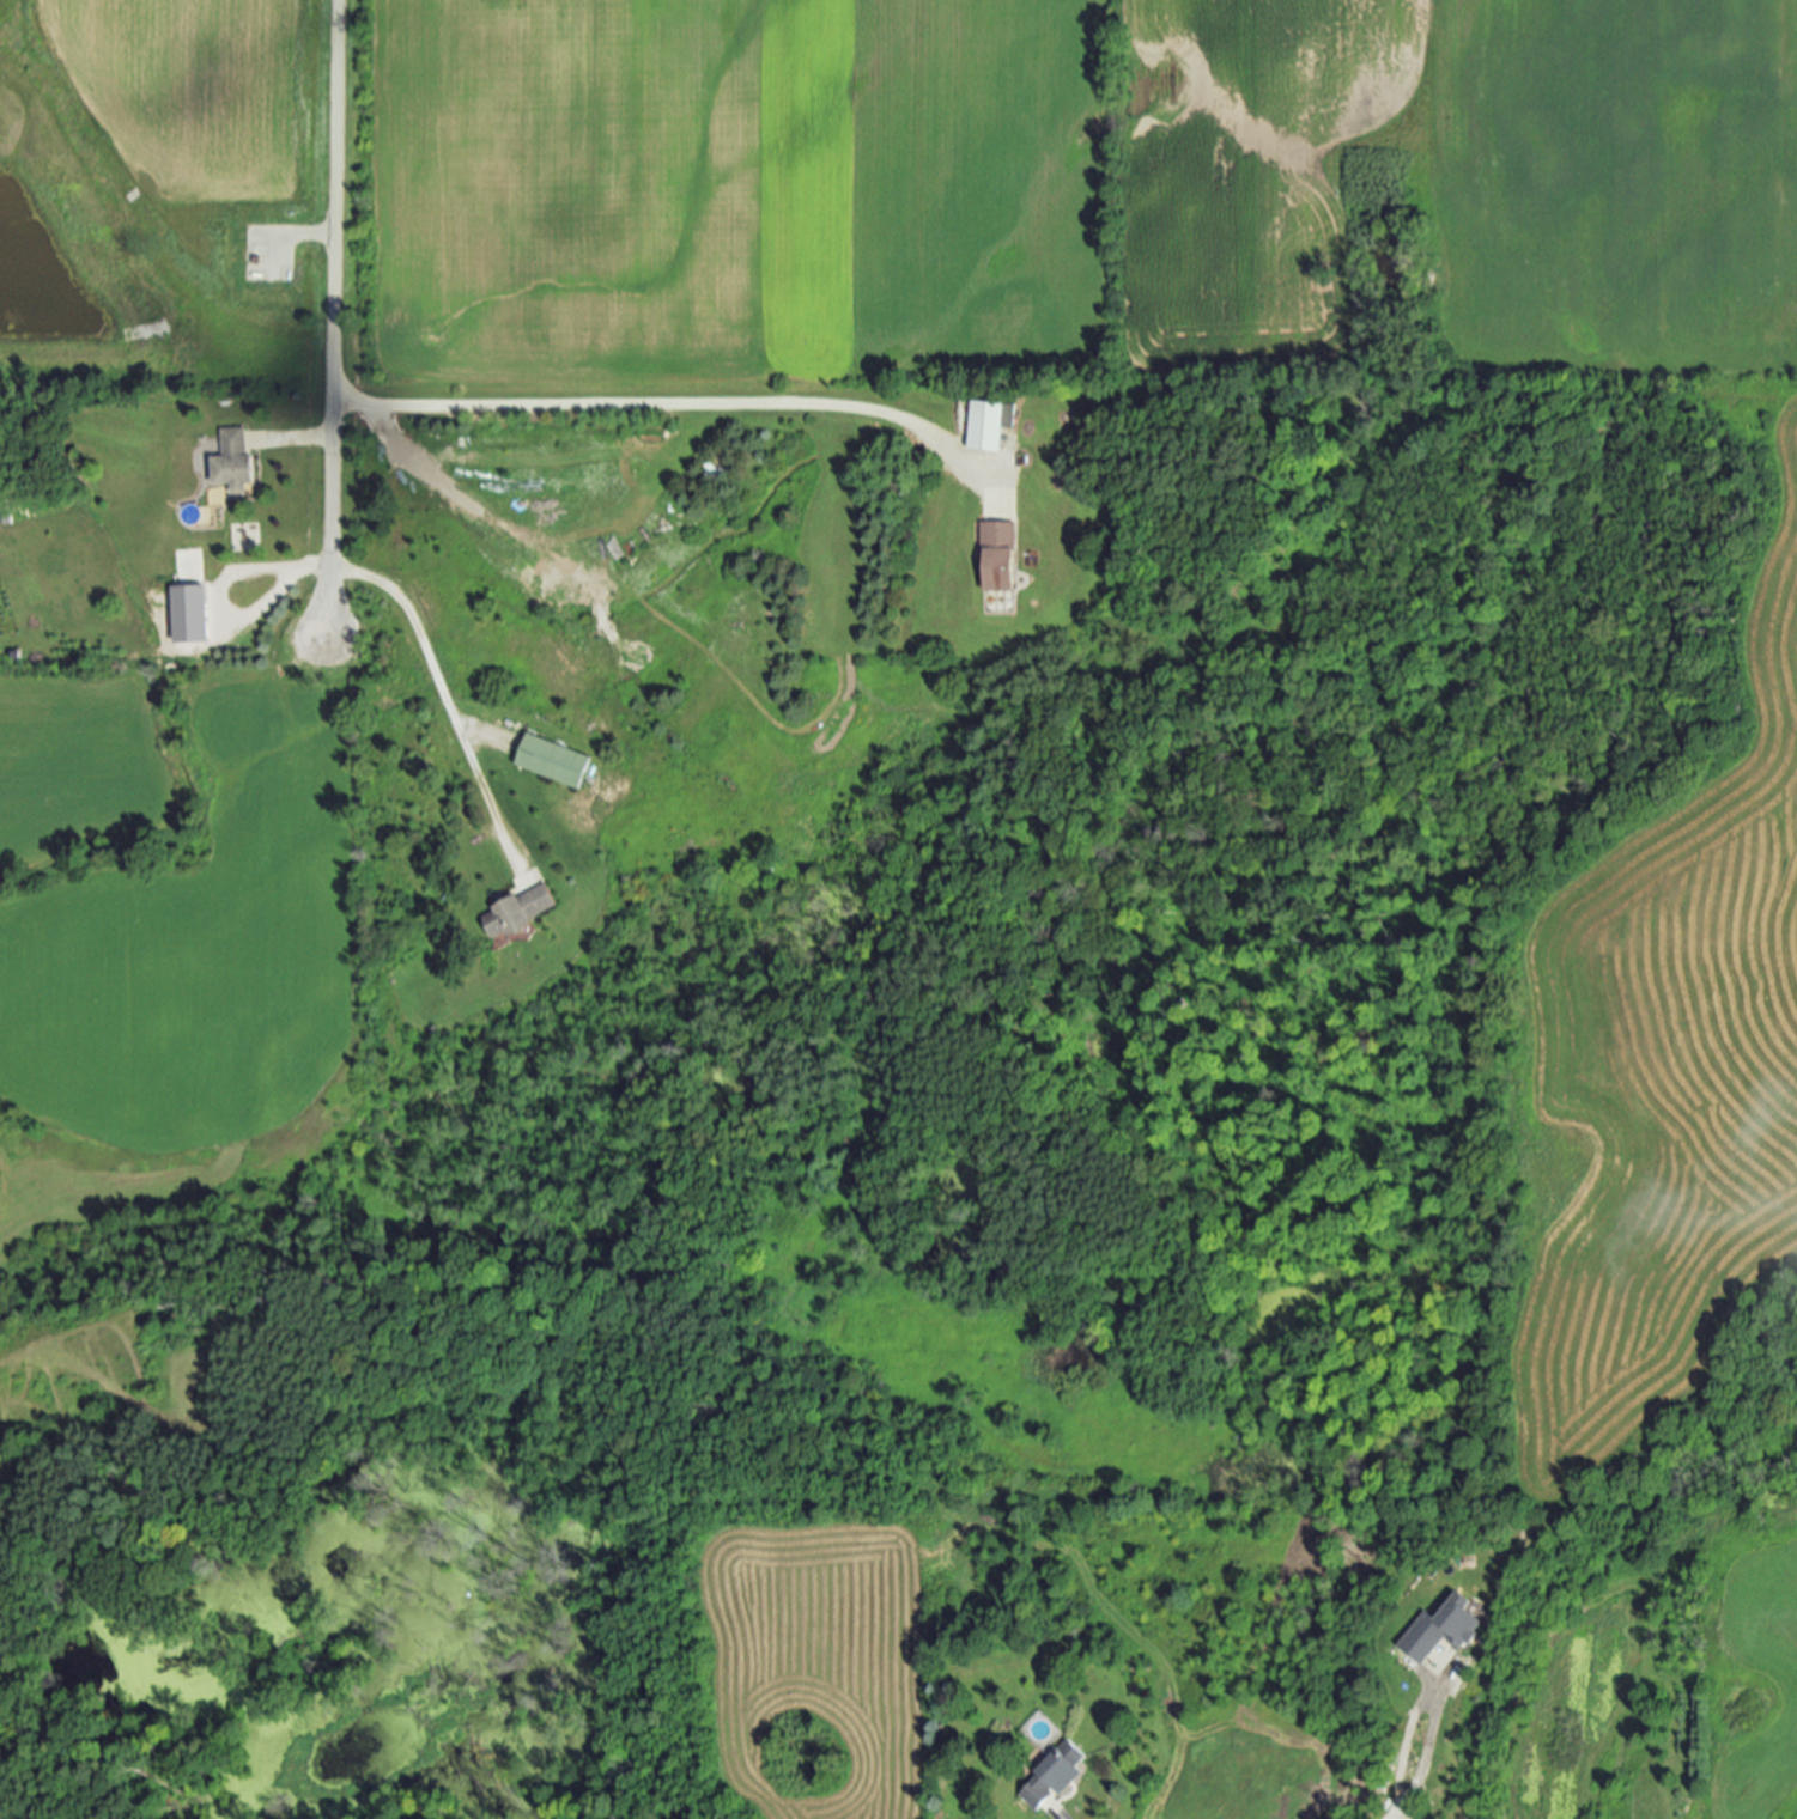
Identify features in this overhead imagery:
road: (334, 314)
road: (667, 406)
building: (991, 425)
road: (304, 438)
building: (235, 462)
building: (1000, 556)
building: (188, 568)
building: (193, 614)
road: (423, 638)
building: (554, 761)
building: (785, 815)
building: (518, 912)
building: (1447, 1631)
road: (1419, 1765)
building: (1051, 1780)
road: (1058, 1812)

